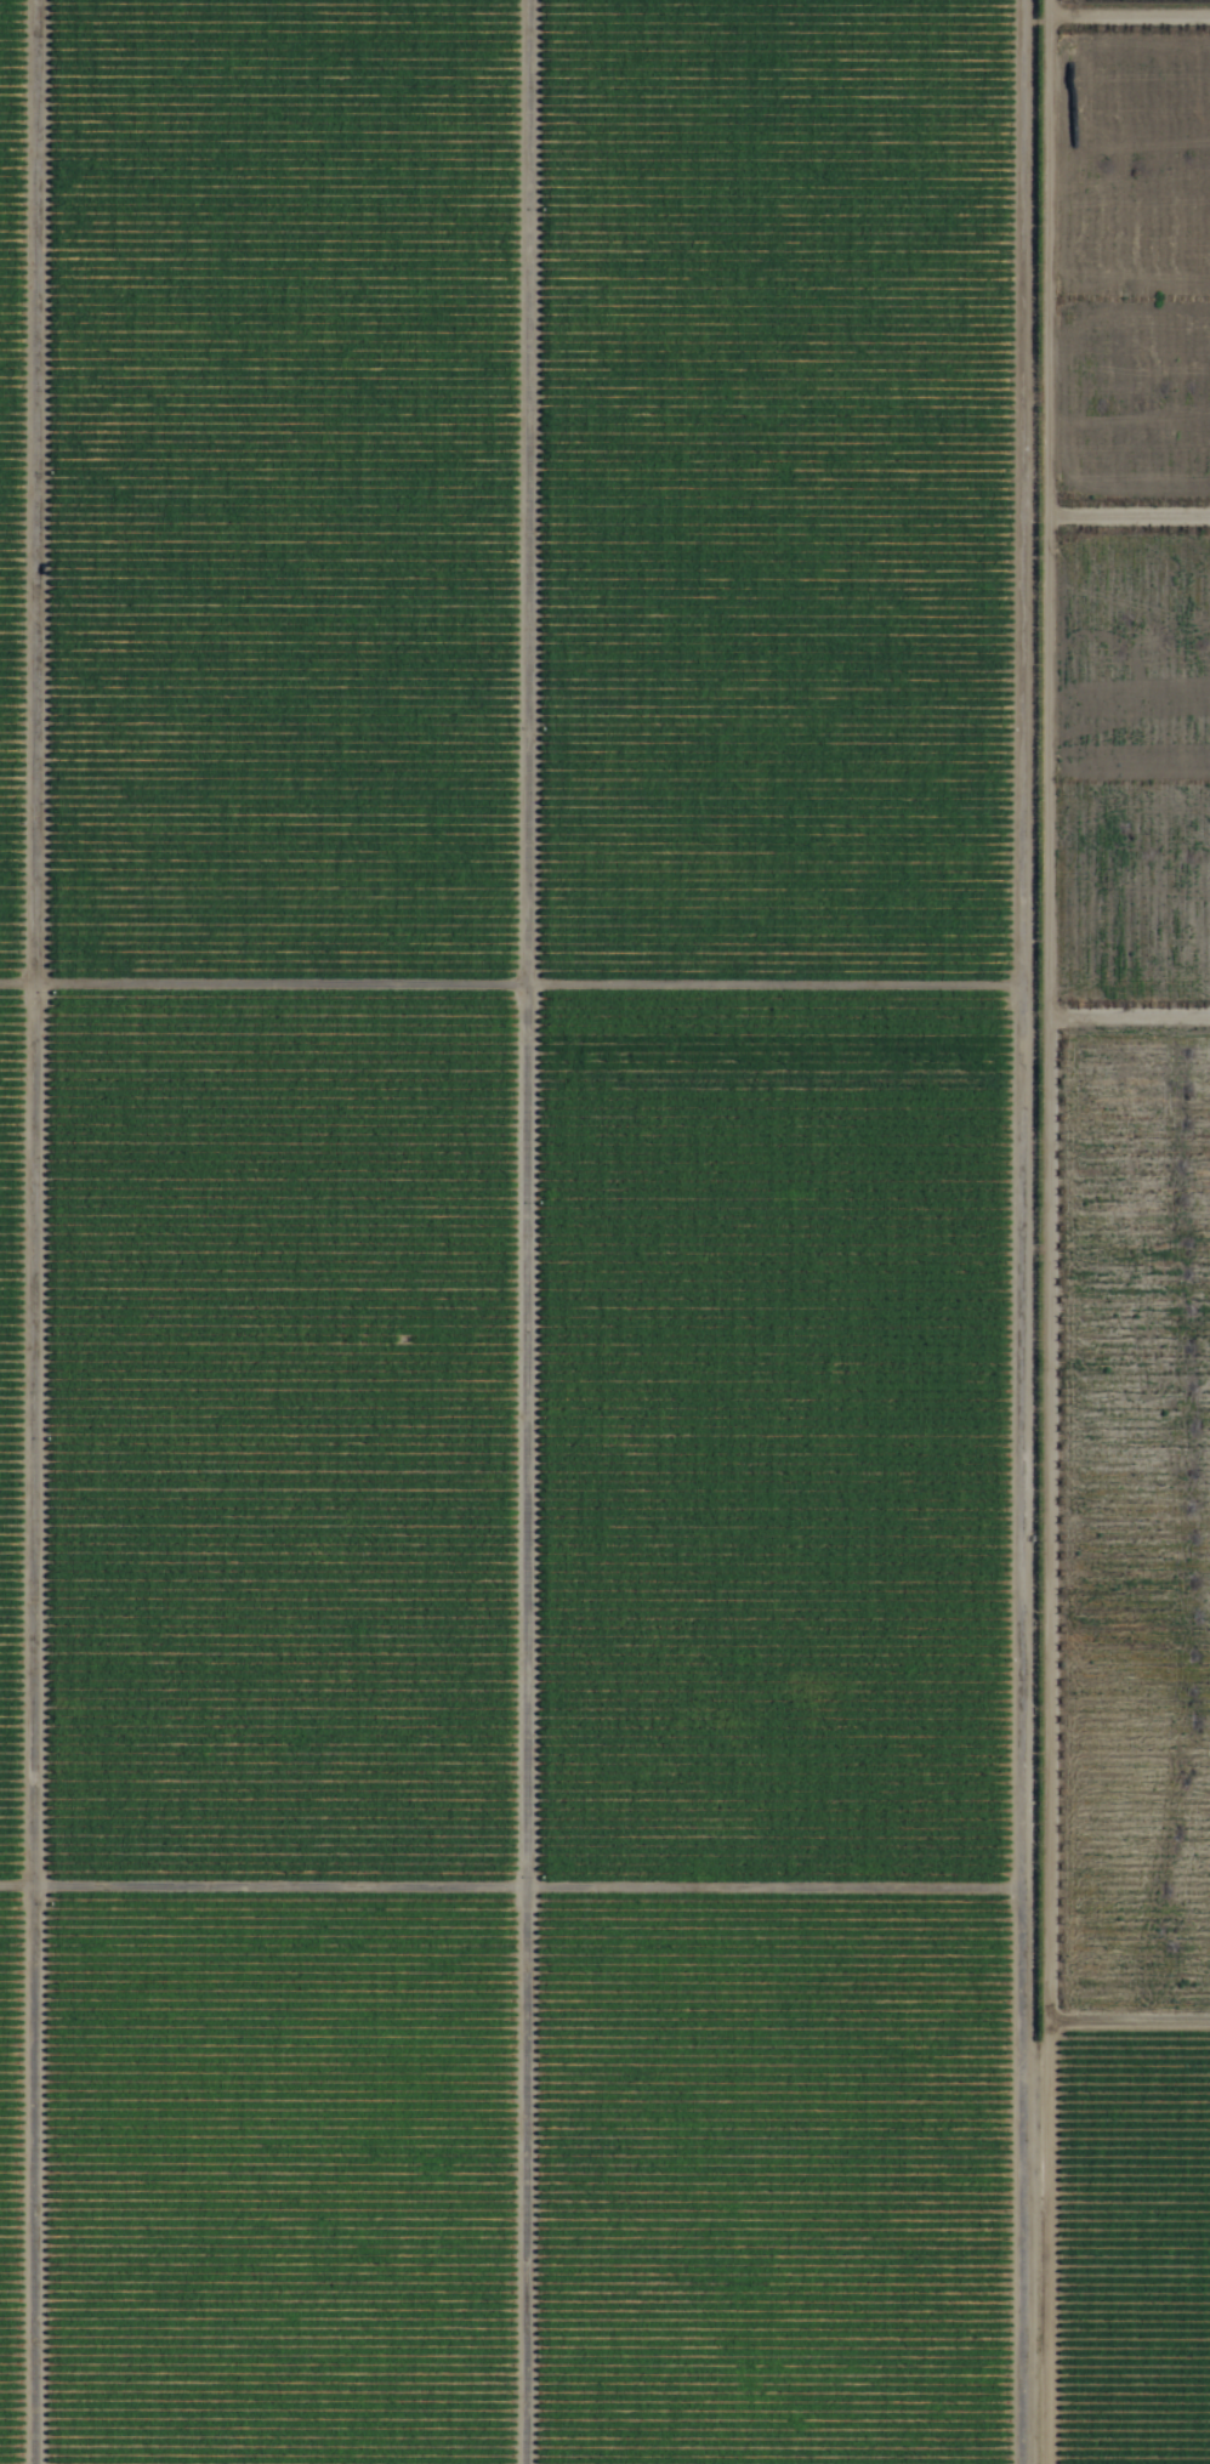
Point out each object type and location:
road: (176, 1024)
crop: (604, 1232)

